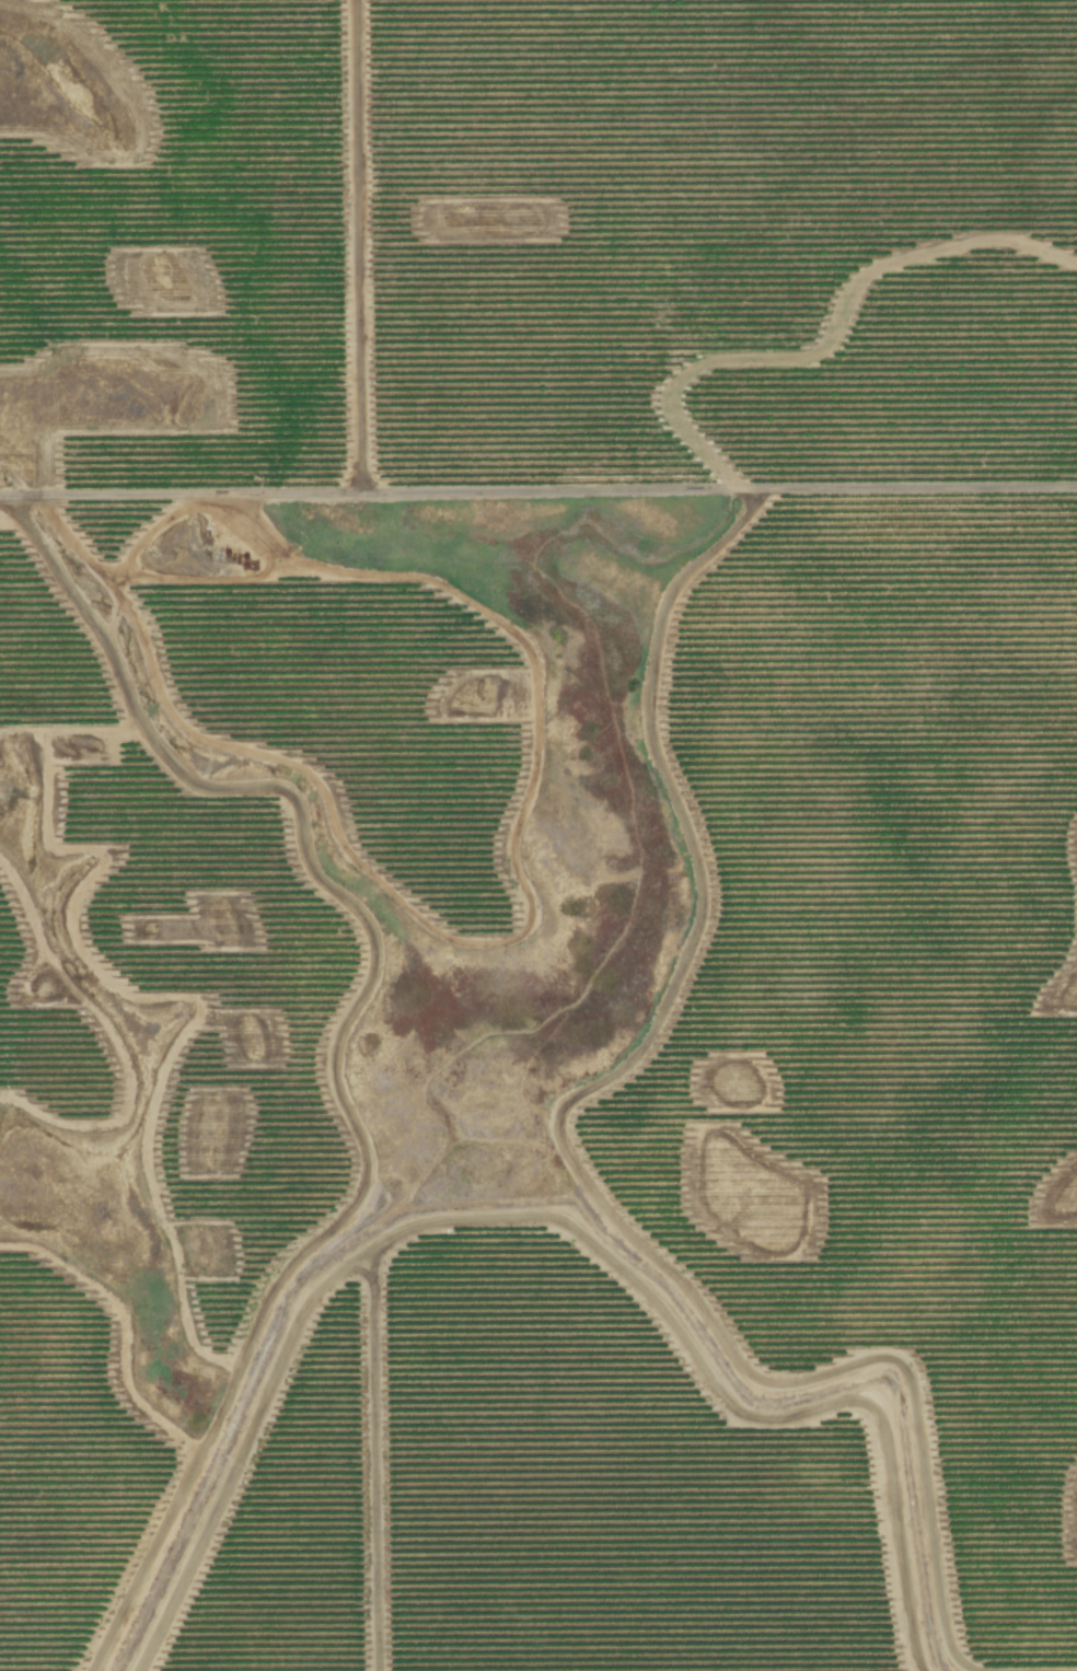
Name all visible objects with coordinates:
crop: (535, 253)
crop: (564, 1483)

